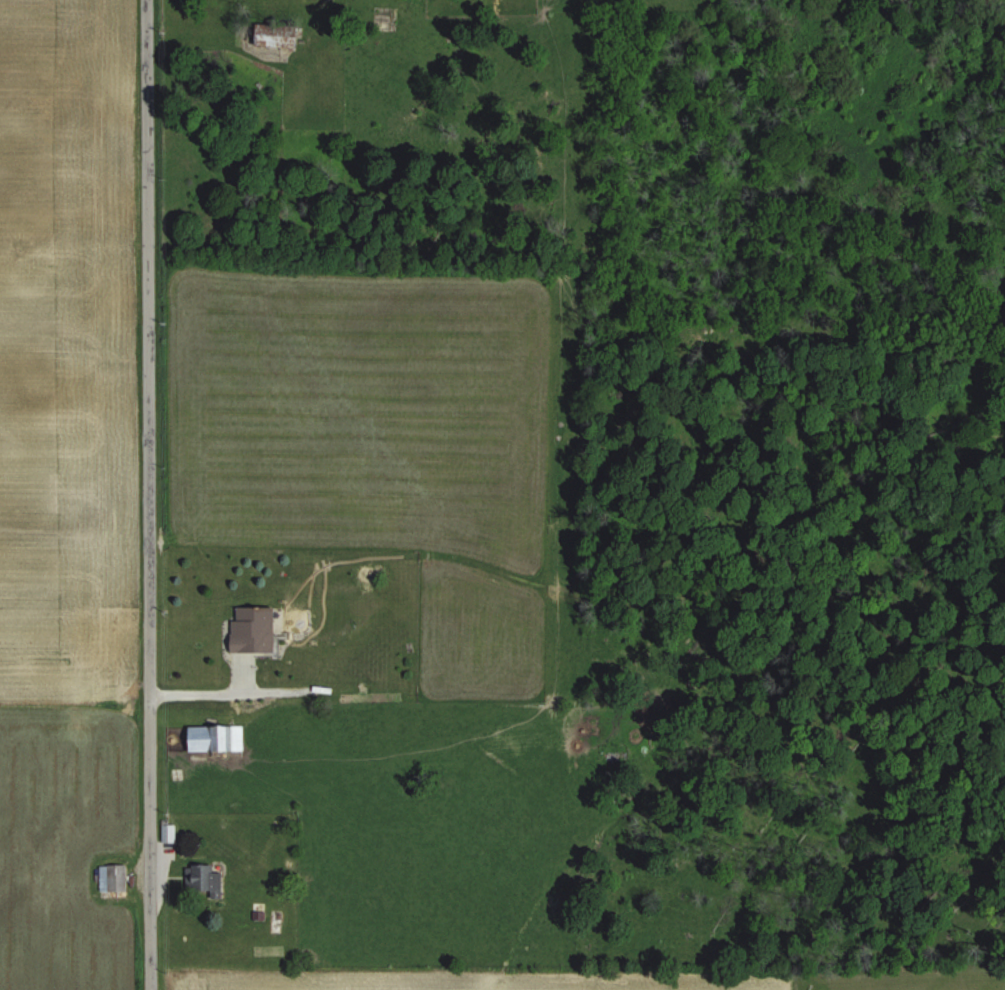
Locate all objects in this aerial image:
building: (278, 36)
road: (150, 495)
building: (250, 628)
road: (205, 690)
building: (213, 738)
building: (167, 833)
building: (112, 878)
building: (202, 879)
building: (274, 923)

